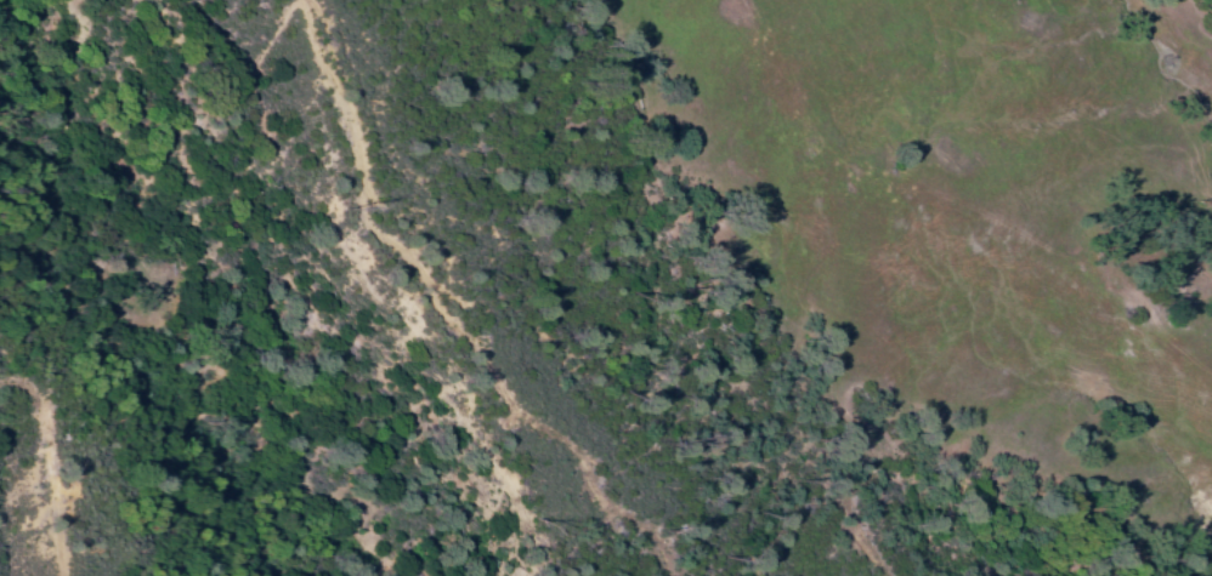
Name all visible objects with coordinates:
road: (483, 304)

